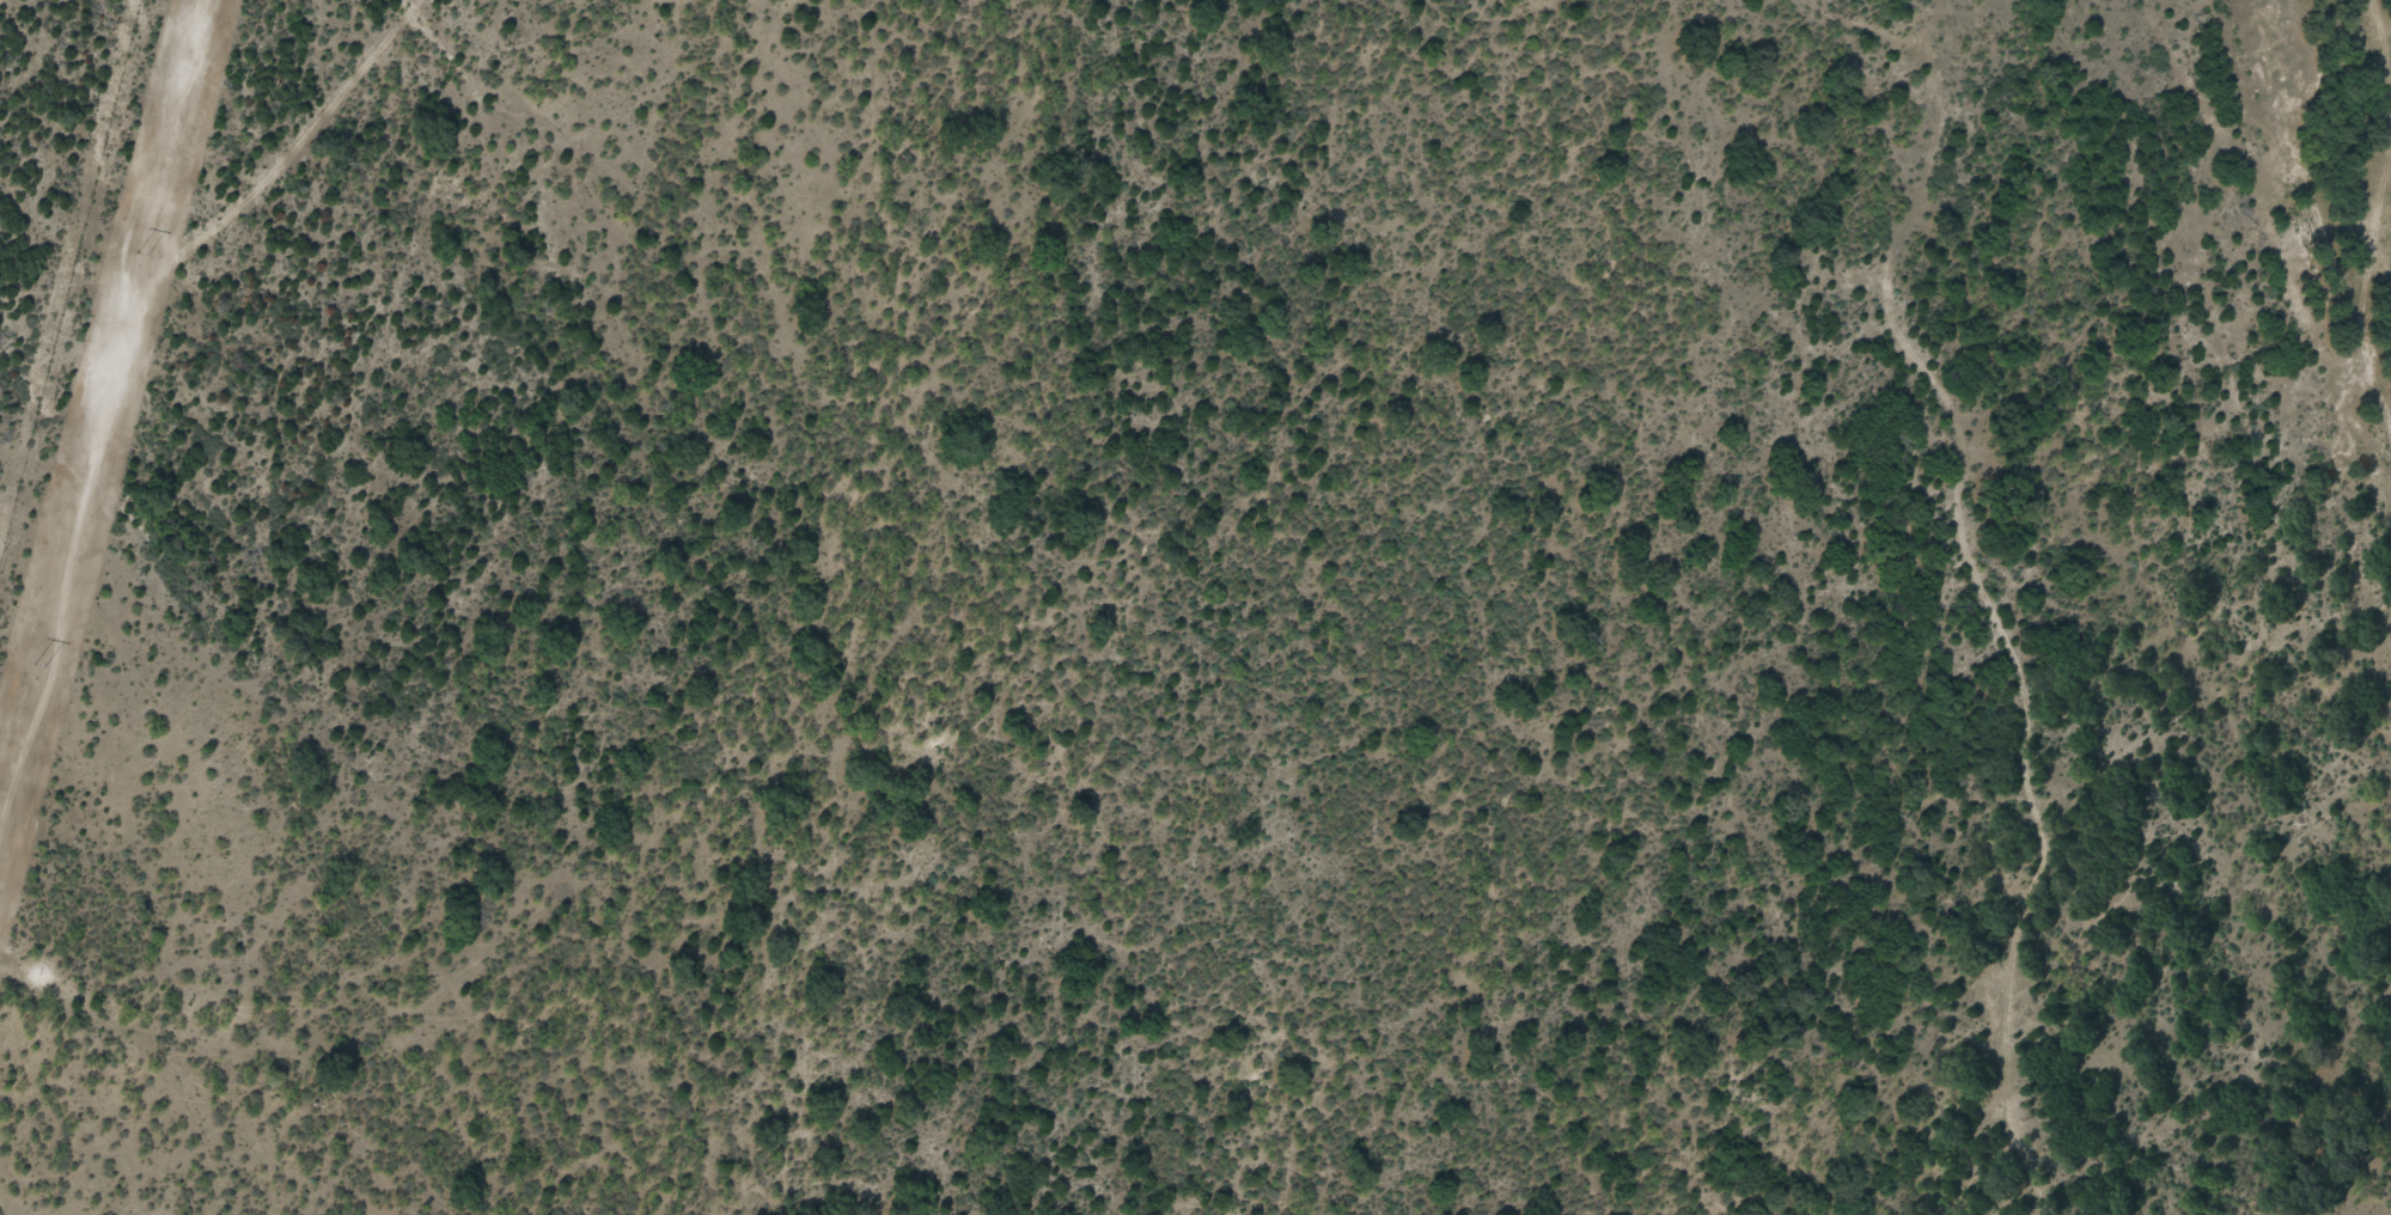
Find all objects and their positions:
road: (275, 148)
power tower: (140, 252)
road: (100, 421)
power tower: (37, 666)

